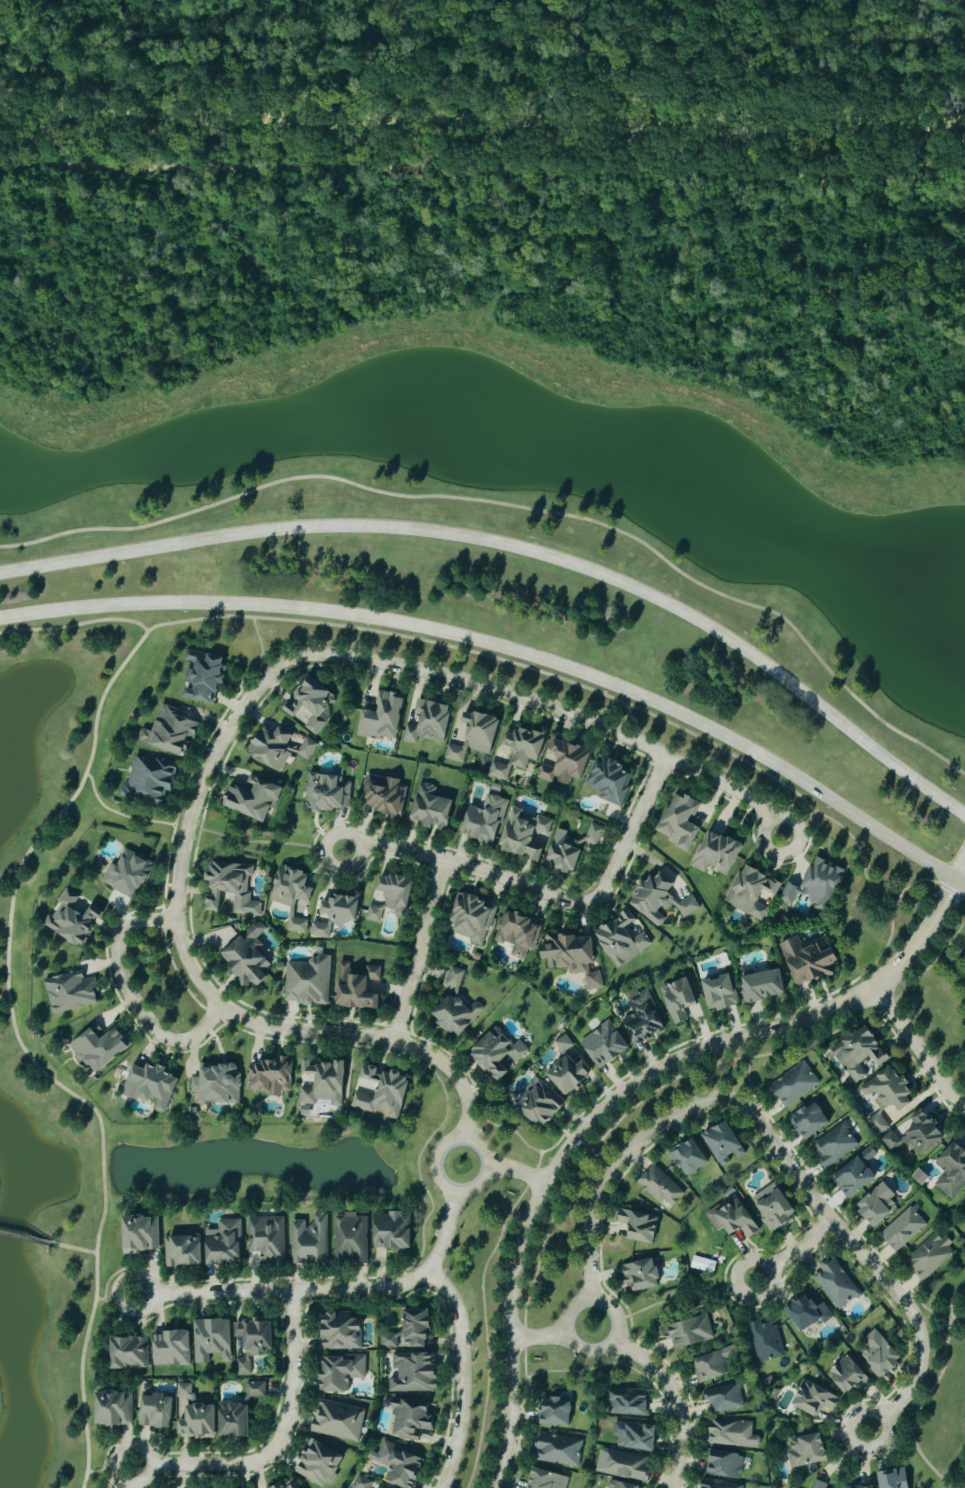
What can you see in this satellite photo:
river: (482, 120)
road: (482, 169)
road: (518, 506)
road: (519, 547)
road: (74, 624)
road: (141, 636)
road: (509, 650)
road: (258, 664)
building: (203, 675)
road: (228, 702)
building: (311, 702)
building: (383, 717)
building: (429, 722)
road: (234, 723)
building: (171, 731)
building: (481, 731)
building: (278, 748)
building: (456, 752)
building: (519, 752)
building: (563, 762)
building: (148, 780)
building: (610, 780)
building: (327, 793)
building: (384, 795)
building: (252, 798)
building: (431, 808)
building: (484, 820)
building: (681, 822)
road: (204, 832)
building: (524, 835)
building: (570, 848)
building: (716, 853)
road: (166, 861)
building: (127, 874)
building: (814, 883)
building: (291, 887)
building: (231, 888)
building: (752, 892)
road: (548, 894)
road: (959, 896)
building: (392, 897)
building: (659, 898)
building: (342, 908)
building: (472, 918)
building: (72, 920)
building: (319, 930)
building: (517, 933)
building: (622, 938)
road: (419, 951)
building: (247, 957)
building: (572, 957)
building: (806, 959)
road: (929, 964)
road: (950, 965)
road: (954, 970)
building: (454, 978)
building: (307, 981)
building: (763, 986)
building: (357, 987)
building: (70, 992)
building: (720, 992)
park: (936, 994)
road: (131, 997)
building: (678, 999)
building: (455, 1014)
building: (642, 1017)
building: (604, 1044)
building: (100, 1048)
road: (919, 1048)
building: (856, 1051)
building: (498, 1054)
building: (568, 1068)
building: (270, 1077)
building: (323, 1082)
building: (217, 1084)
building: (154, 1085)
building: (793, 1085)
building: (381, 1092)
road: (620, 1095)
building: (886, 1095)
building: (541, 1105)
building: (809, 1121)
building: (918, 1134)
building: (724, 1143)
building: (833, 1145)
road: (779, 1150)
building: (867, 1154)
building: (688, 1158)
building: (952, 1170)
road: (517, 1171)
building: (854, 1177)
road: (443, 1184)
building: (660, 1188)
building: (877, 1205)
building: (773, 1207)
building: (732, 1219)
building: (639, 1226)
building: (903, 1229)
building: (392, 1231)
building: (141, 1234)
road: (24, 1237)
building: (267, 1238)
building: (350, 1239)
building: (310, 1241)
building: (224, 1243)
road: (72, 1247)
building: (183, 1250)
road: (795, 1252)
building: (929, 1256)
building: (641, 1276)
building: (835, 1284)
road: (327, 1290)
road: (114, 1297)
building: (806, 1312)
building: (417, 1328)
building: (341, 1332)
building: (689, 1333)
road: (540, 1338)
building: (212, 1340)
building: (388, 1341)
building: (765, 1341)
building: (253, 1342)
road: (576, 1346)
building: (171, 1349)
building: (128, 1353)
building: (879, 1354)
building: (713, 1365)
building: (341, 1372)
building: (414, 1373)
road: (465, 1374)
building: (848, 1375)
building: (255, 1390)
road: (928, 1391)
building: (723, 1399)
building: (815, 1399)
road: (677, 1401)
building: (629, 1402)
building: (113, 1409)
building: (155, 1411)
building: (556, 1413)
building: (196, 1416)
building: (412, 1419)
building: (234, 1421)
building: (338, 1421)
building: (732, 1434)
building: (635, 1436)
road: (279, 1441)
building: (557, 1450)
building: (807, 1451)
building: (319, 1464)
building: (399, 1465)
building: (622, 1465)
building: (724, 1465)
road: (110, 1469)
building: (893, 1479)
building: (547, 1480)
building: (361, 1483)
building: (288, 1484)
building: (719, 1484)
building: (818, 1484)
building: (619, 1485)
building: (865, 1486)

